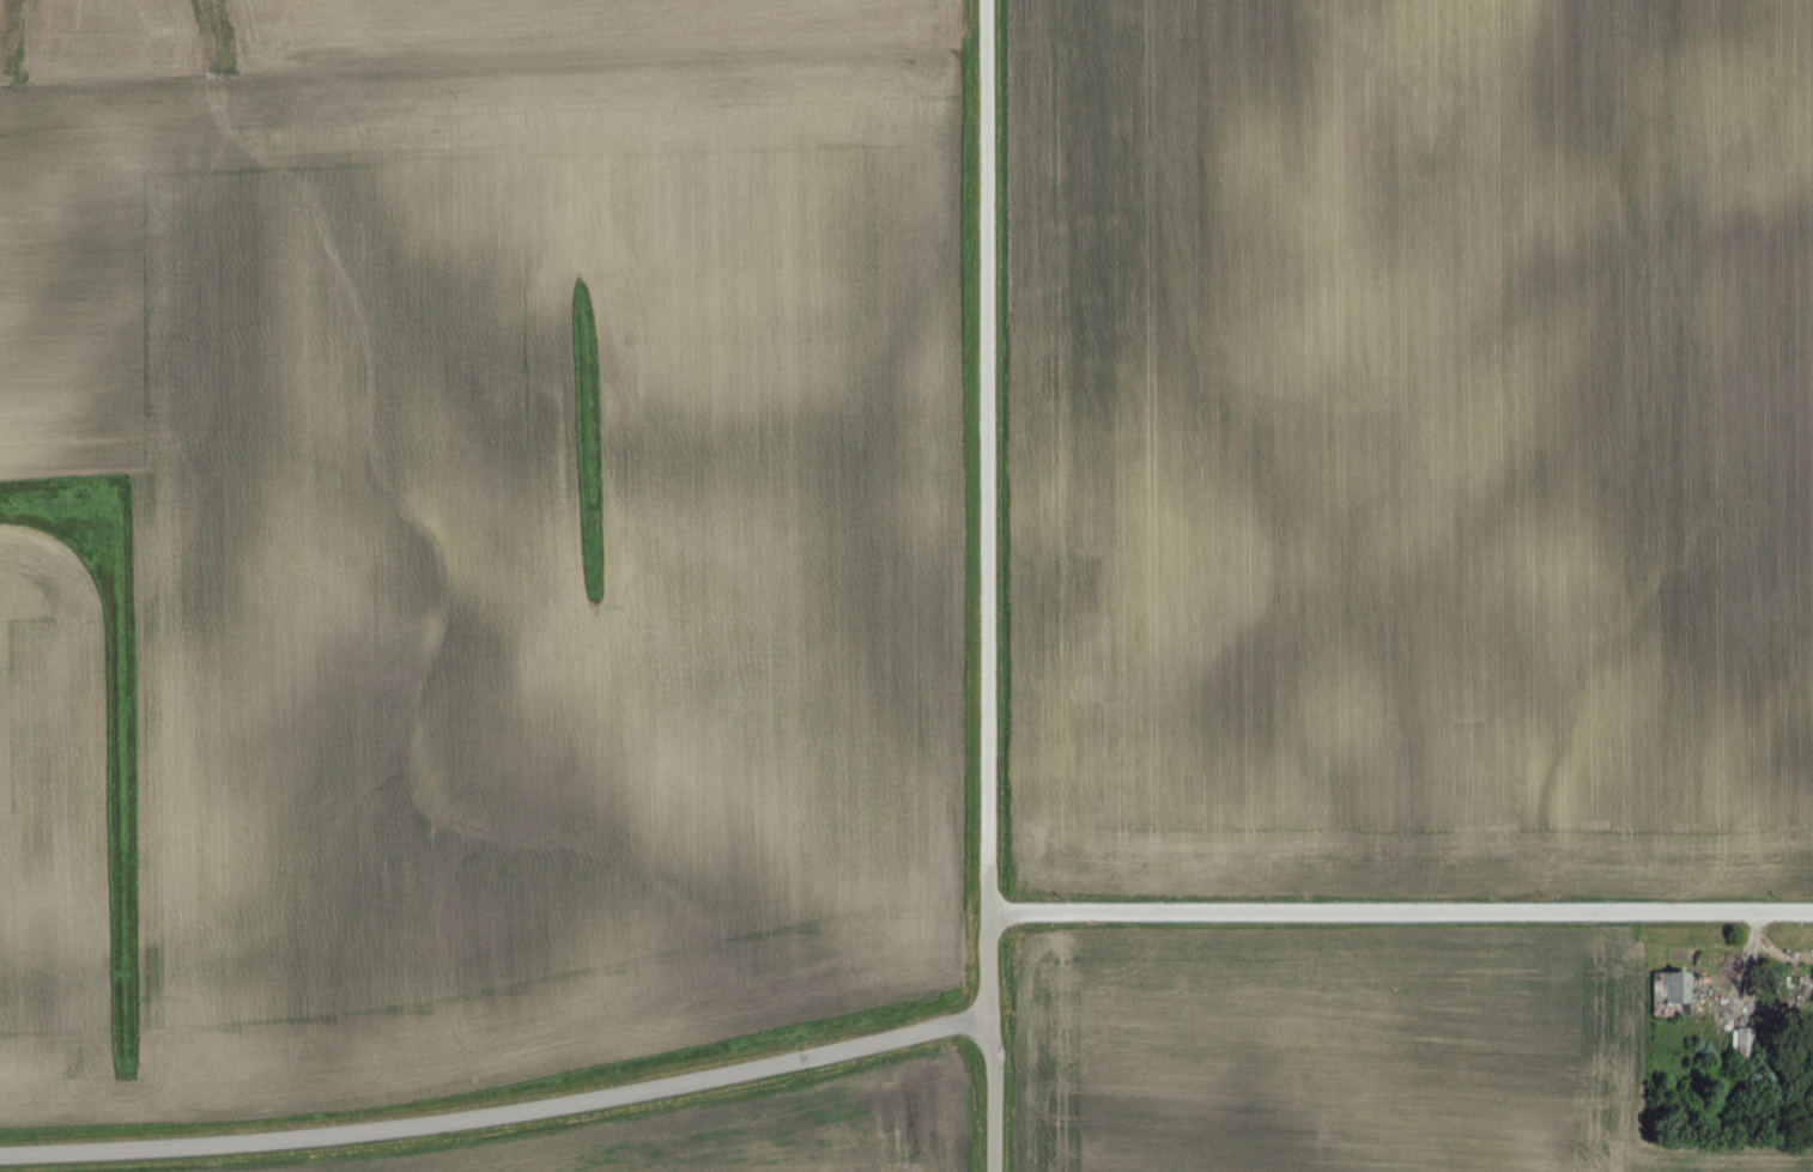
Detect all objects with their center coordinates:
road: (986, 509)
road: (1400, 906)
building: (1673, 989)
road: (992, 1094)
road: (498, 1113)

